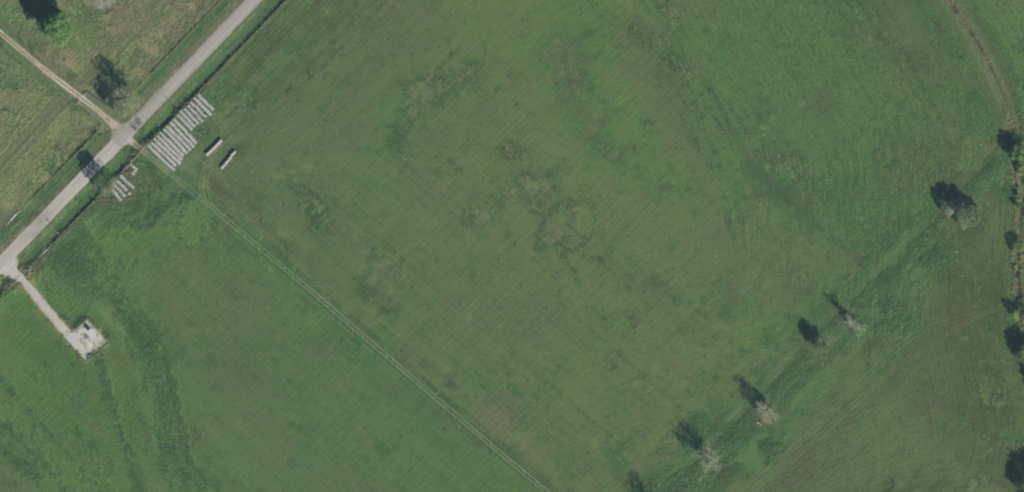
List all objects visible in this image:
road: (60, 87)
road: (125, 131)

